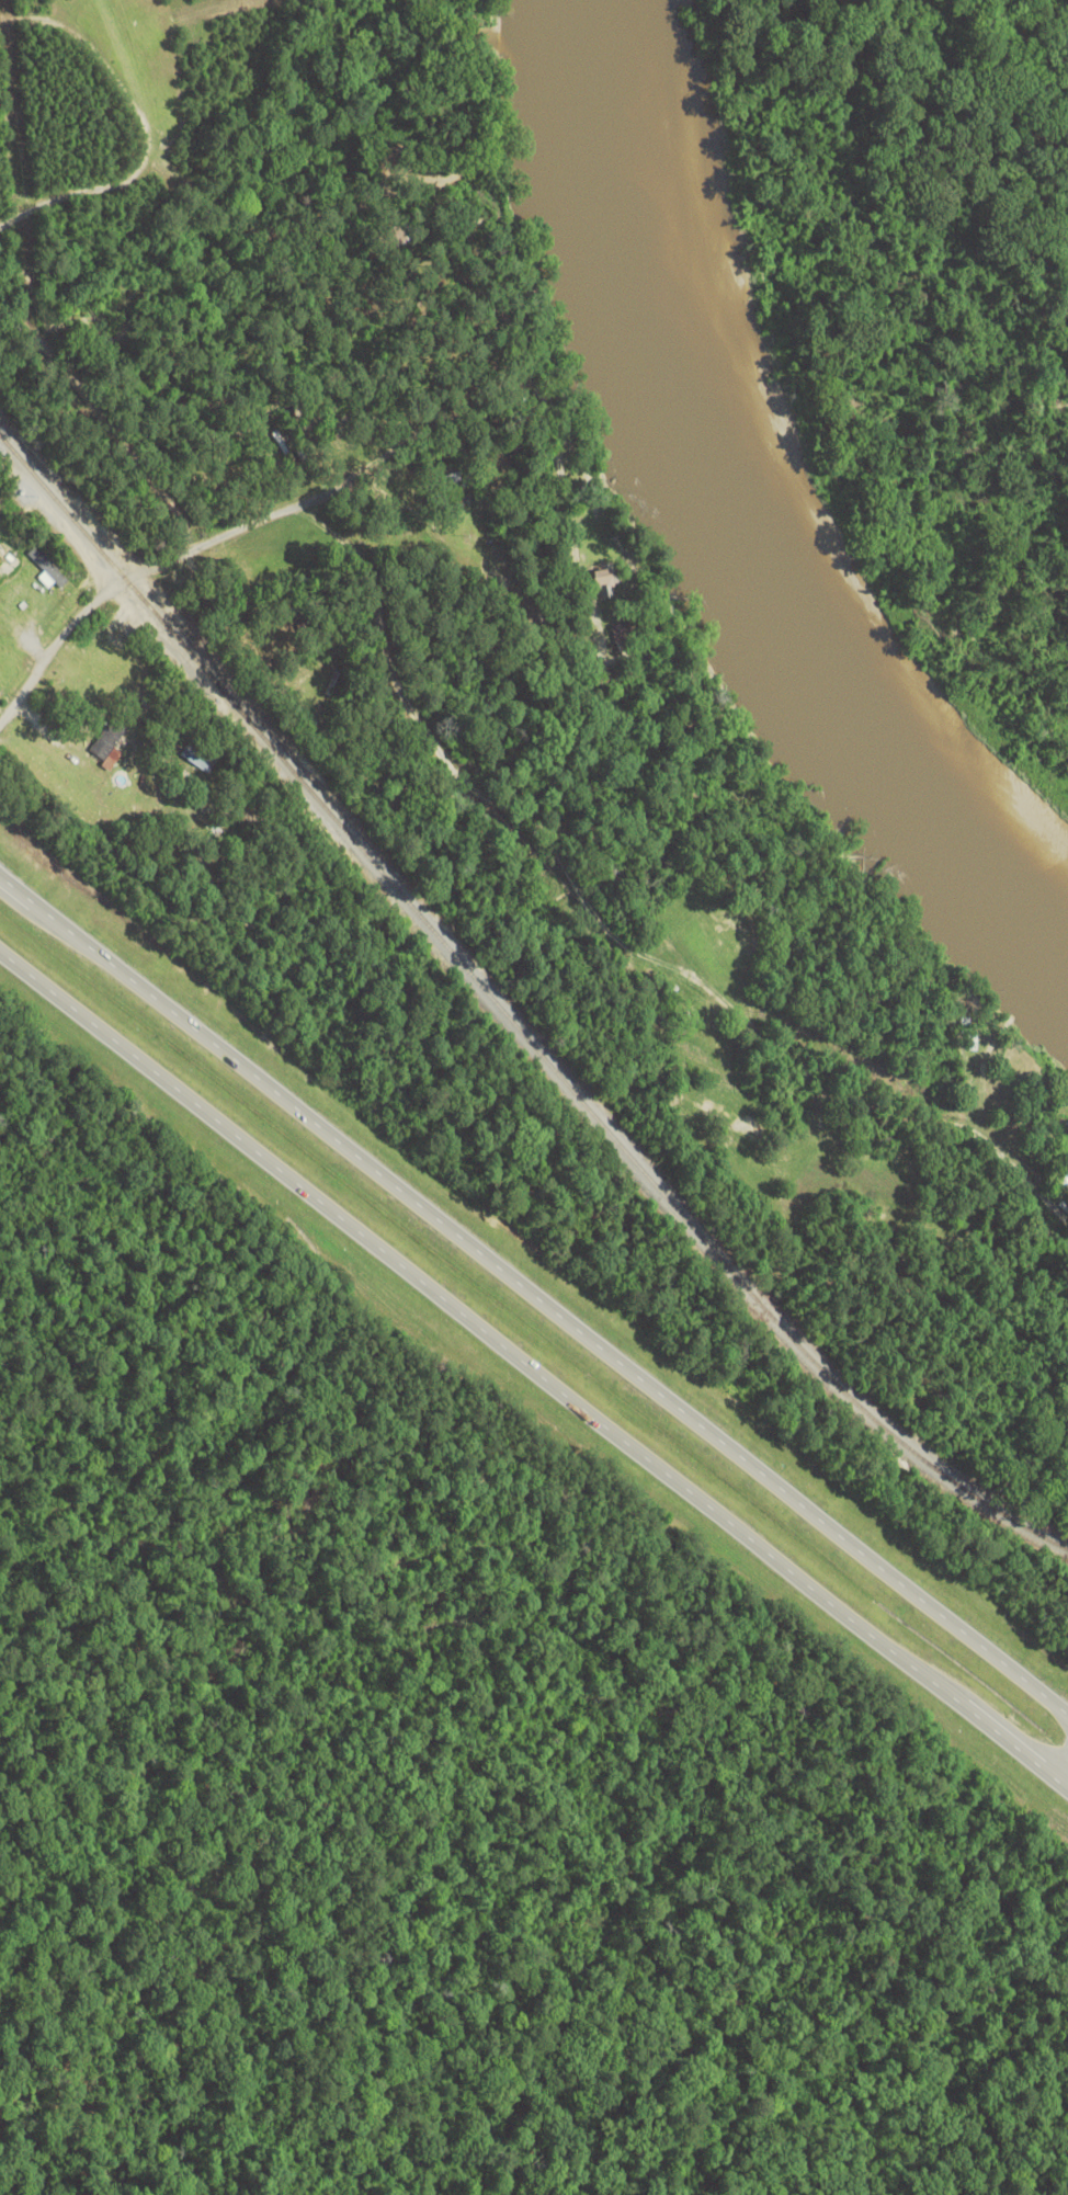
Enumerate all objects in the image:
building: (461, 476)
railway: (59, 503)
road: (238, 526)
river: (730, 541)
building: (50, 569)
building: (614, 580)
building: (112, 744)
building: (204, 755)
building: (975, 1045)
railway: (568, 1088)
road: (534, 1299)
road: (534, 1371)
road: (1059, 1765)

